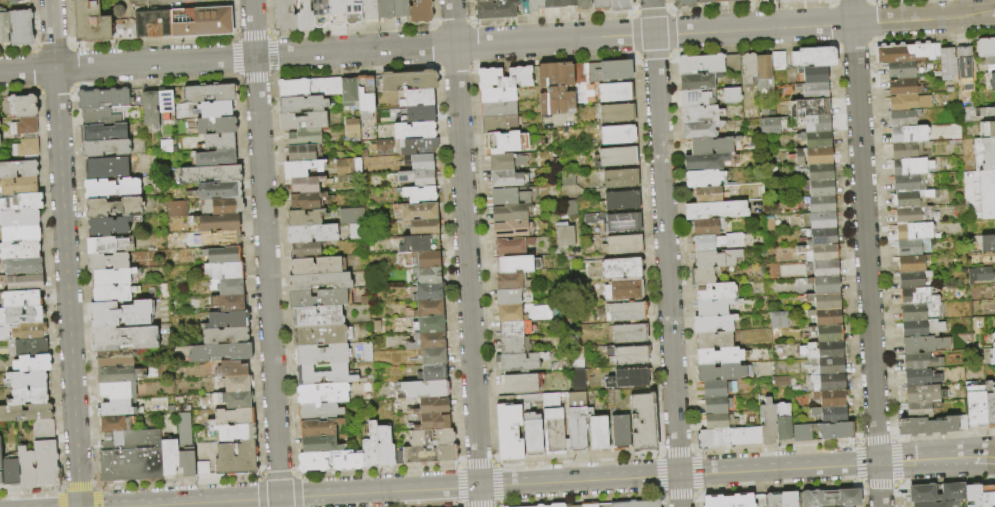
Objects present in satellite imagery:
building: (736, 0)
building: (825, 0)
building: (489, 1)
building: (705, 1)
building: (720, 1)
building: (796, 1)
building: (14, 2)
building: (569, 3)
building: (553, 4)
building: (685, 4)
building: (536, 5)
building: (584, 5)
building: (601, 5)
building: (620, 6)
building: (370, 9)
building: (386, 9)
building: (402, 9)
building: (497, 10)
building: (421, 11)
building: (353, 12)
building: (321, 13)
building: (337, 13)
building: (285, 16)
building: (305, 17)
building: (91, 22)
building: (203, 22)
building: (4, 27)
building: (145, 27)
building: (22, 28)
road: (497, 42)
building: (986, 47)
building: (907, 53)
building: (814, 58)
building: (733, 60)
building: (779, 60)
building: (701, 64)
building: (948, 64)
building: (991, 65)
building: (966, 68)
building: (750, 69)
building: (900, 70)
building: (615, 71)
building: (763, 72)
building: (814, 75)
building: (506, 78)
building: (410, 81)
building: (990, 81)
building: (700, 82)
building: (311, 88)
building: (903, 88)
building: (556, 89)
building: (814, 90)
building: (350, 91)
building: (616, 93)
building: (211, 94)
building: (729, 94)
building: (498, 95)
building: (366, 97)
building: (698, 98)
building: (416, 99)
building: (105, 100)
building: (166, 102)
building: (909, 102)
building: (304, 105)
building: (20, 107)
building: (810, 108)
building: (216, 109)
building: (499, 109)
building: (151, 110)
building: (985, 112)
building: (421, 114)
building: (617, 114)
building: (702, 114)
building: (102, 117)
building: (904, 118)
building: (304, 122)
building: (816, 124)
building: (500, 125)
building: (767, 125)
building: (217, 126)
building: (24, 128)
building: (350, 128)
building: (701, 130)
building: (987, 130)
building: (416, 131)
building: (107, 133)
building: (908, 134)
building: (619, 135)
building: (305, 138)
building: (817, 140)
building: (220, 142)
building: (505, 143)
building: (381, 145)
building: (713, 146)
building: (419, 147)
building: (28, 148)
building: (106, 148)
building: (907, 151)
building: (303, 153)
building: (985, 154)
building: (814, 157)
building: (215, 158)
building: (616, 158)
building: (507, 162)
building: (706, 162)
building: (423, 163)
building: (346, 166)
building: (911, 167)
building: (108, 168)
building: (303, 169)
building: (19, 170)
building: (821, 172)
building: (211, 174)
building: (416, 178)
building: (509, 179)
building: (621, 179)
building: (704, 179)
building: (909, 183)
building: (307, 185)
building: (20, 186)
building: (113, 188)
building: (821, 188)
building: (220, 190)
building: (987, 194)
building: (420, 195)
building: (709, 195)
building: (508, 198)
building: (913, 198)
building: (307, 201)
building: (623, 201)
building: (22, 203)
building: (822, 204)
building: (228, 206)
building: (115, 208)
building: (173, 208)
building: (716, 210)
building: (419, 212)
building: (512, 213)
building: (350, 215)
building: (915, 215)
building: (306, 218)
building: (20, 219)
building: (821, 221)
building: (617, 222)
building: (218, 223)
building: (109, 226)
building: (424, 227)
building: (709, 227)
building: (512, 229)
building: (914, 231)
building: (313, 233)
building: (22, 234)
building: (564, 234)
building: (820, 237)
building: (229, 239)
building: (718, 242)
building: (988, 243)
building: (419, 244)
building: (624, 245)
building: (109, 246)
building: (513, 246)
building: (912, 247)
building: (20, 251)
building: (307, 251)
road: (64, 253)
road: (264, 253)
road: (465, 253)
road: (665, 253)
building: (820, 253)
road: (866, 253)
building: (224, 256)
building: (428, 259)
building: (717, 259)
building: (108, 262)
building: (518, 264)
building: (317, 266)
building: (23, 267)
building: (623, 269)
building: (824, 269)
building: (226, 271)
building: (912, 271)
building: (977, 274)
building: (428, 275)
building: (705, 276)
building: (113, 277)
building: (320, 281)
building: (513, 281)
building: (24, 282)
building: (826, 285)
building: (228, 287)
building: (624, 291)
building: (428, 292)
building: (717, 292)
building: (114, 293)
building: (509, 297)
building: (919, 297)
building: (20, 299)
building: (319, 299)
building: (826, 301)
building: (228, 303)
building: (715, 307)
building: (427, 309)
building: (627, 312)
building: (922, 312)
building: (523, 313)
building: (122, 314)
building: (21, 315)
building: (318, 317)
building: (827, 317)
building: (994, 317)
building: (776, 319)
building: (229, 320)
building: (714, 324)
building: (430, 325)
building: (922, 328)
building: (514, 330)
building: (23, 332)
building: (629, 334)
building: (829, 334)
building: (226, 336)
building: (322, 336)
building: (993, 336)
building: (126, 339)
building: (714, 340)
building: (429, 341)
building: (924, 344)
building: (993, 345)
building: (514, 346)
building: (28, 347)
building: (823, 351)
building: (221, 352)
building: (323, 355)
building: (629, 356)
building: (433, 357)
building: (720, 357)
building: (992, 358)
building: (115, 359)
building: (521, 361)
building: (921, 361)
building: (33, 364)
building: (828, 366)
building: (232, 369)
building: (435, 373)
building: (723, 373)
building: (120, 375)
building: (325, 376)
building: (921, 377)
building: (630, 379)
building: (29, 380)
building: (607, 382)
building: (829, 382)
building: (524, 383)
building: (237, 384)
building: (426, 389)
building: (718, 389)
building: (119, 391)
building: (924, 393)
building: (323, 394)
building: (30, 396)
building: (832, 398)
building: (237, 400)
building: (577, 403)
building: (976, 404)
building: (990, 404)
building: (717, 405)
building: (433, 406)
building: (922, 408)
building: (117, 409)
building: (320, 412)
building: (26, 413)
building: (831, 415)
building: (235, 417)
building: (644, 421)
building: (434, 422)
building: (720, 422)
building: (784, 422)
building: (769, 423)
building: (117, 425)
building: (929, 426)
building: (186, 427)
building: (321, 428)
building: (44, 429)
building: (835, 431)
building: (554, 432)
building: (621, 432)
building: (237, 433)
building: (509, 433)
building: (600, 434)
building: (803, 434)
building: (533, 435)
building: (730, 437)
building: (432, 438)
building: (133, 440)
building: (321, 445)
building: (385, 446)
building: (371, 447)
road: (988, 453)
building: (430, 455)
road: (988, 456)
building: (170, 458)
building: (237, 459)
building: (313, 462)
building: (348, 463)
building: (46, 464)
building: (188, 464)
building: (132, 465)
building: (1, 466)
building: (27, 469)
building: (204, 469)
building: (11, 471)
road: (548, 482)
building: (0, 486)
building: (936, 493)
building: (973, 495)
building: (988, 496)
traffic signals: (278, 498)
building: (832, 498)
building: (789, 499)
building: (731, 501)
building: (773, 501)
building: (639, 504)
building: (938, 504)
building: (540, 505)
building: (558, 505)
building: (591, 505)
building: (575, 506)

